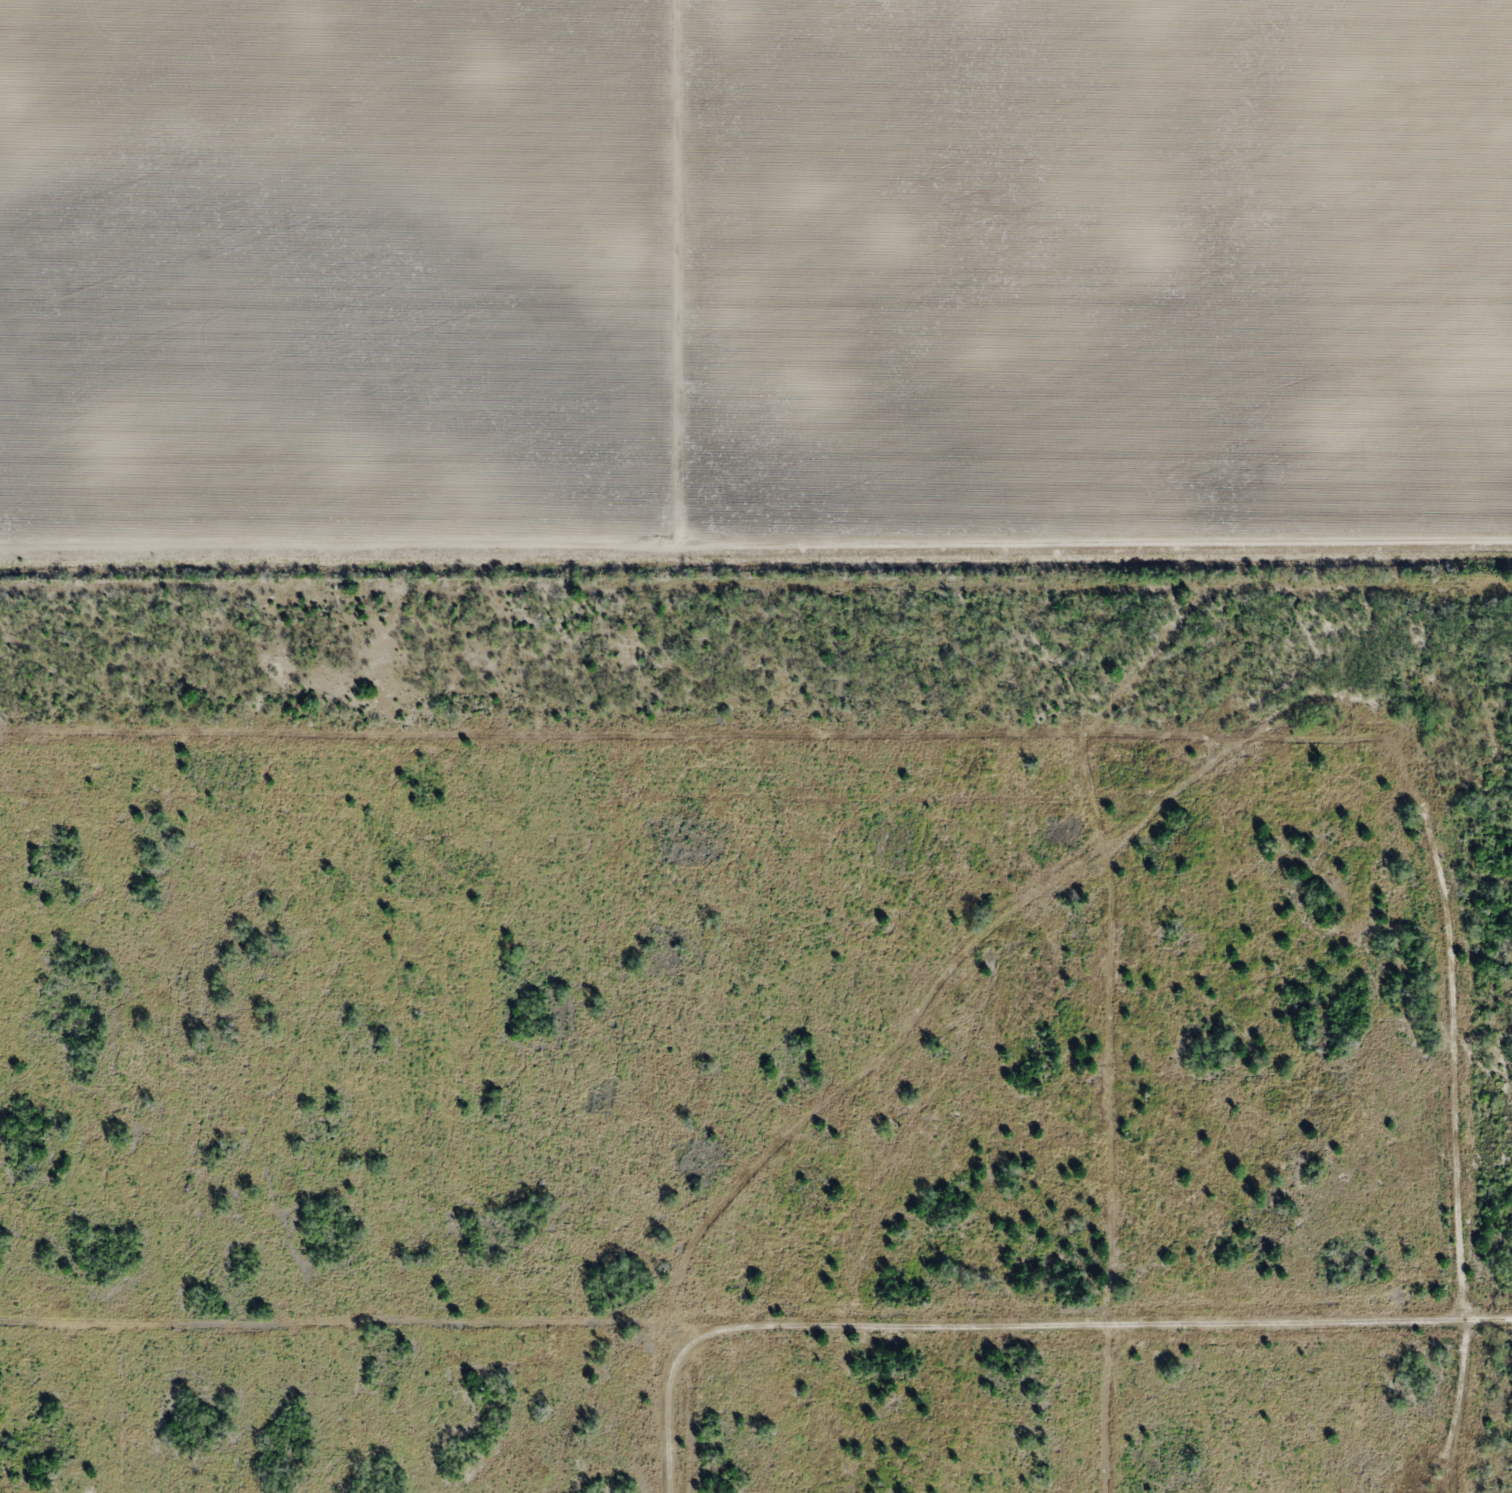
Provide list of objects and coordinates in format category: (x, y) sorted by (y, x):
road: (1442, 568)
road: (1009, 1345)

